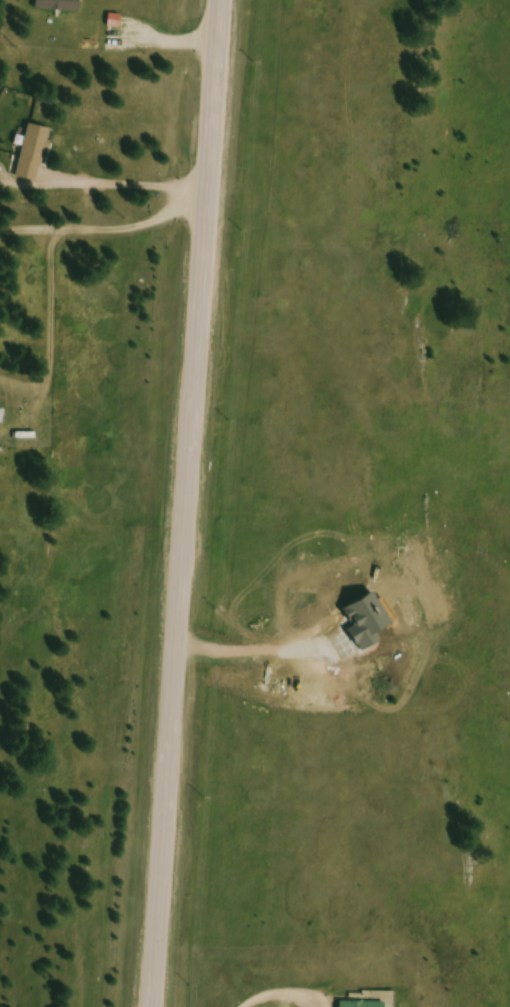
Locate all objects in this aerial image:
building: (61, 6)
building: (36, 155)
road: (101, 221)
building: (25, 436)
road: (178, 503)
building: (357, 1005)

